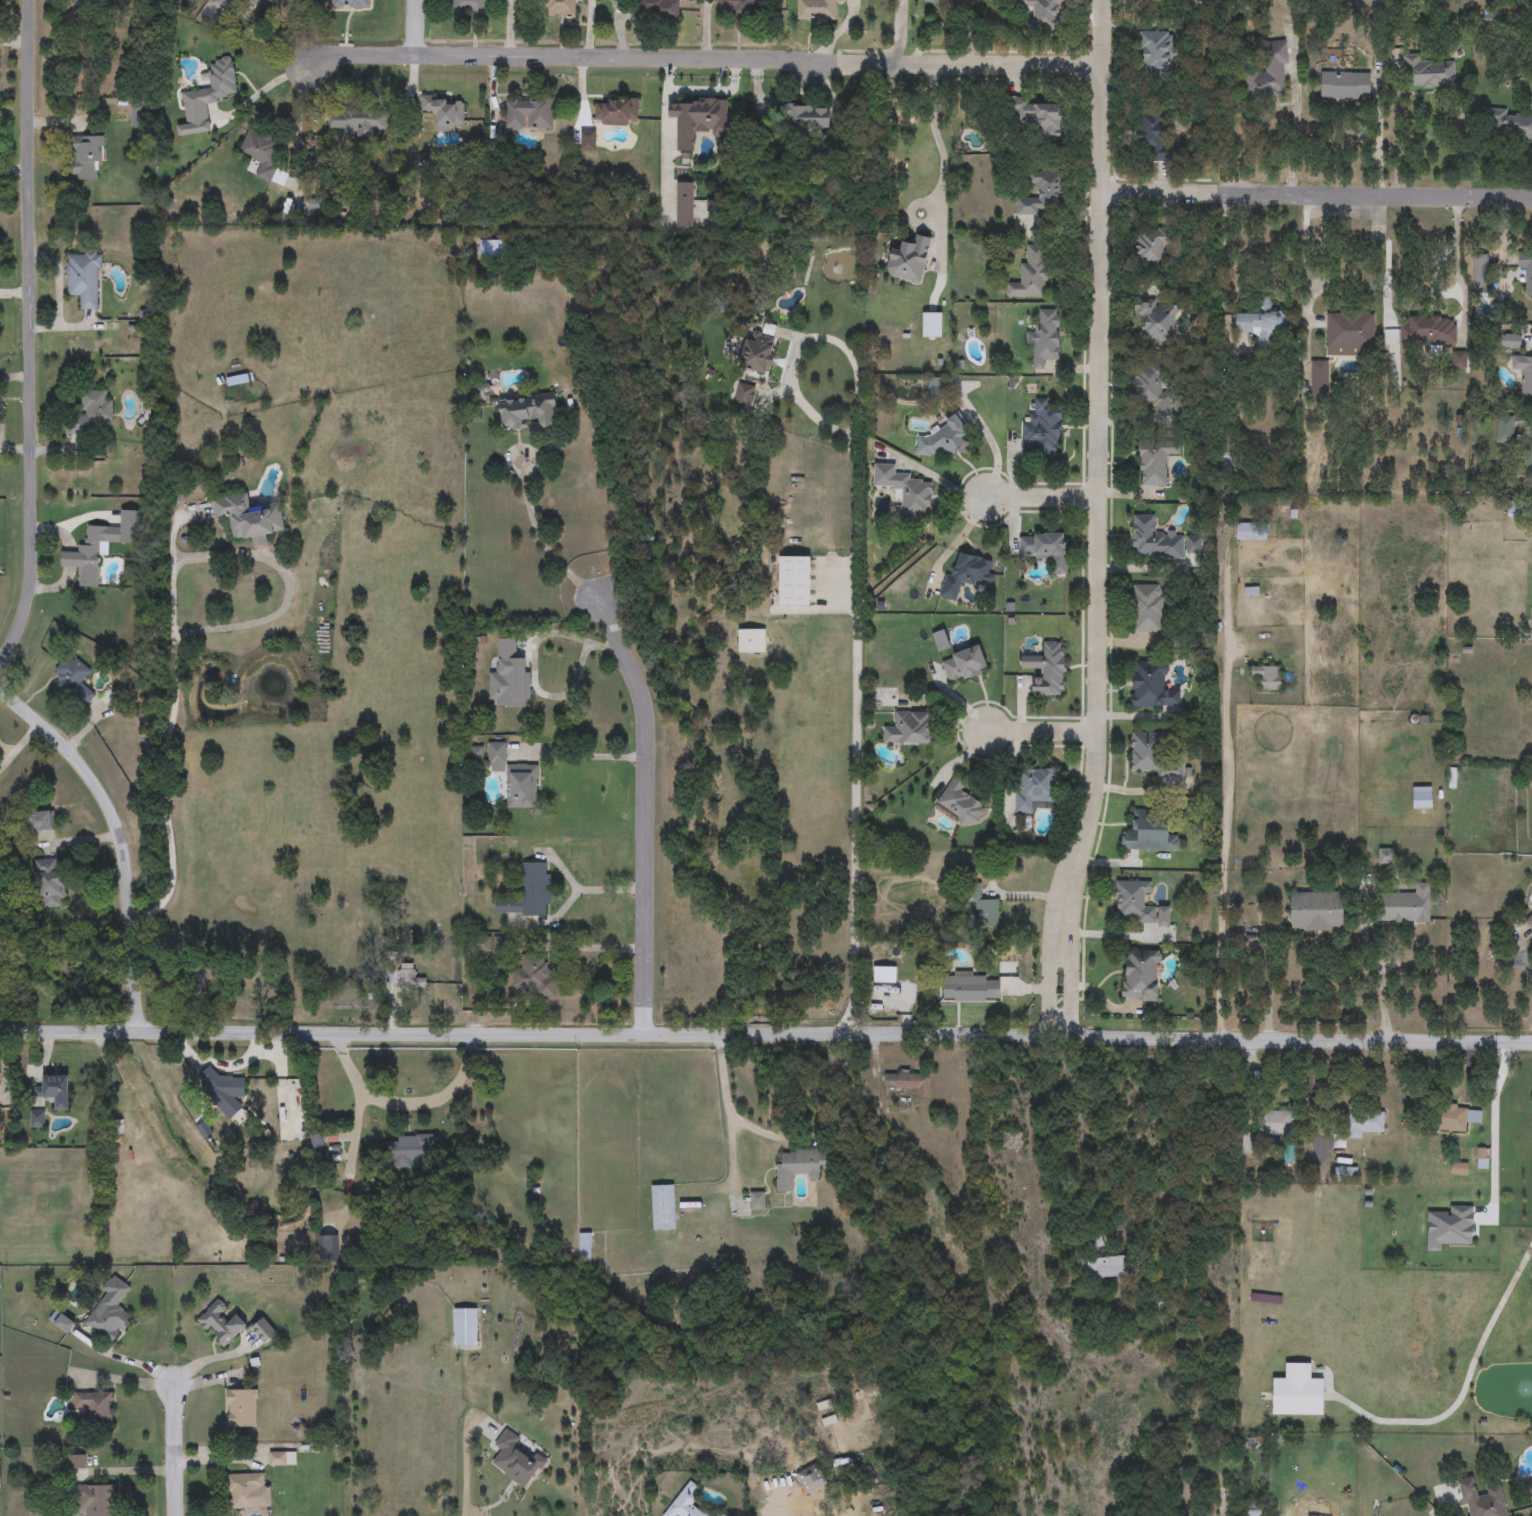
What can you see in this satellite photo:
building: (86, 0)
building: (943, 1)
building: (562, 2)
building: (352, 5)
building: (234, 6)
building: (471, 7)
building: (737, 8)
building: (655, 9)
building: (816, 10)
building: (1043, 13)
road: (415, 28)
road: (13, 43)
building: (1156, 53)
road: (701, 59)
building: (1334, 60)
building: (1427, 73)
building: (1269, 74)
building: (1345, 85)
building: (207, 97)
building: (444, 111)
building: (620, 112)
building: (529, 113)
building: (912, 113)
building: (139, 114)
building: (803, 115)
building: (1035, 117)
building: (697, 120)
building: (352, 122)
building: (1508, 124)
building: (1154, 135)
road: (1396, 135)
building: (261, 152)
building: (87, 156)
road: (943, 159)
building: (1042, 193)
road: (1316, 194)
building: (684, 205)
building: (1151, 248)
road: (1304, 256)
building: (909, 260)
road: (1366, 261)
road: (1219, 264)
building: (1480, 272)
building: (1031, 274)
building: (84, 279)
building: (1526, 279)
building: (1155, 323)
building: (1262, 324)
building: (931, 325)
building: (1428, 330)
road: (29, 334)
building: (1349, 334)
building: (1044, 337)
building: (1511, 341)
building: (758, 353)
building: (1460, 360)
building: (1523, 373)
building: (1320, 377)
building: (937, 388)
building: (1151, 388)
building: (744, 397)
building: (529, 411)
building: (92, 412)
building: (1041, 430)
building: (1504, 430)
building: (944, 438)
building: (1528, 458)
building: (1156, 462)
building: (1223, 463)
road: (930, 474)
building: (906, 492)
road: (1043, 500)
building: (249, 518)
road: (1101, 518)
building: (1251, 531)
building: (1154, 540)
building: (1192, 544)
road: (546, 549)
building: (1046, 549)
building: (88, 555)
building: (967, 575)
building: (793, 581)
road: (855, 601)
building: (1147, 609)
road: (170, 622)
building: (751, 641)
building: (964, 664)
building: (1048, 670)
building: (1268, 677)
building: (509, 678)
building: (74, 680)
building: (1152, 685)
building: (912, 728)
road: (1043, 735)
building: (496, 753)
building: (1153, 756)
road: (581, 758)
building: (522, 786)
building: (1035, 788)
building: (1422, 797)
building: (959, 804)
road: (647, 811)
building: (40, 821)
building: (1150, 836)
road: (118, 837)
building: (48, 882)
road: (597, 891)
building: (529, 893)
building: (1138, 904)
building: (1405, 905)
building: (984, 909)
building: (1317, 911)
building: (1529, 922)
building: (482, 945)
road: (593, 949)
road: (1526, 961)
building: (407, 975)
building: (535, 975)
building: (1140, 976)
road: (1380, 976)
building: (968, 987)
road: (766, 1033)
building: (908, 1081)
building: (220, 1088)
building: (56, 1090)
road: (1311, 1103)
road: (403, 1104)
road: (726, 1110)
building: (36, 1118)
building: (1457, 1118)
building: (1274, 1123)
building: (1363, 1124)
road: (1502, 1129)
building: (1013, 1140)
building: (410, 1149)
building: (799, 1166)
building: (1459, 1168)
building: (1345, 1173)
building: (757, 1201)
building: (663, 1207)
building: (1093, 1238)
building: (584, 1247)
building: (327, 1249)
building: (1103, 1268)
building: (110, 1311)
building: (61, 1321)
building: (221, 1323)
building: (465, 1326)
building: (263, 1330)
building: (1297, 1390)
building: (93, 1408)
building: (242, 1408)
road: (174, 1452)
building: (282, 1459)
building: (516, 1460)
building: (76, 1462)
road: (465, 1474)
building: (811, 1478)
building: (1529, 1488)
building: (243, 1490)
building: (95, 1499)
building: (1481, 1499)
building: (686, 1502)
road: (1450, 1508)
building: (1254, 1510)
building: (719, 1515)

